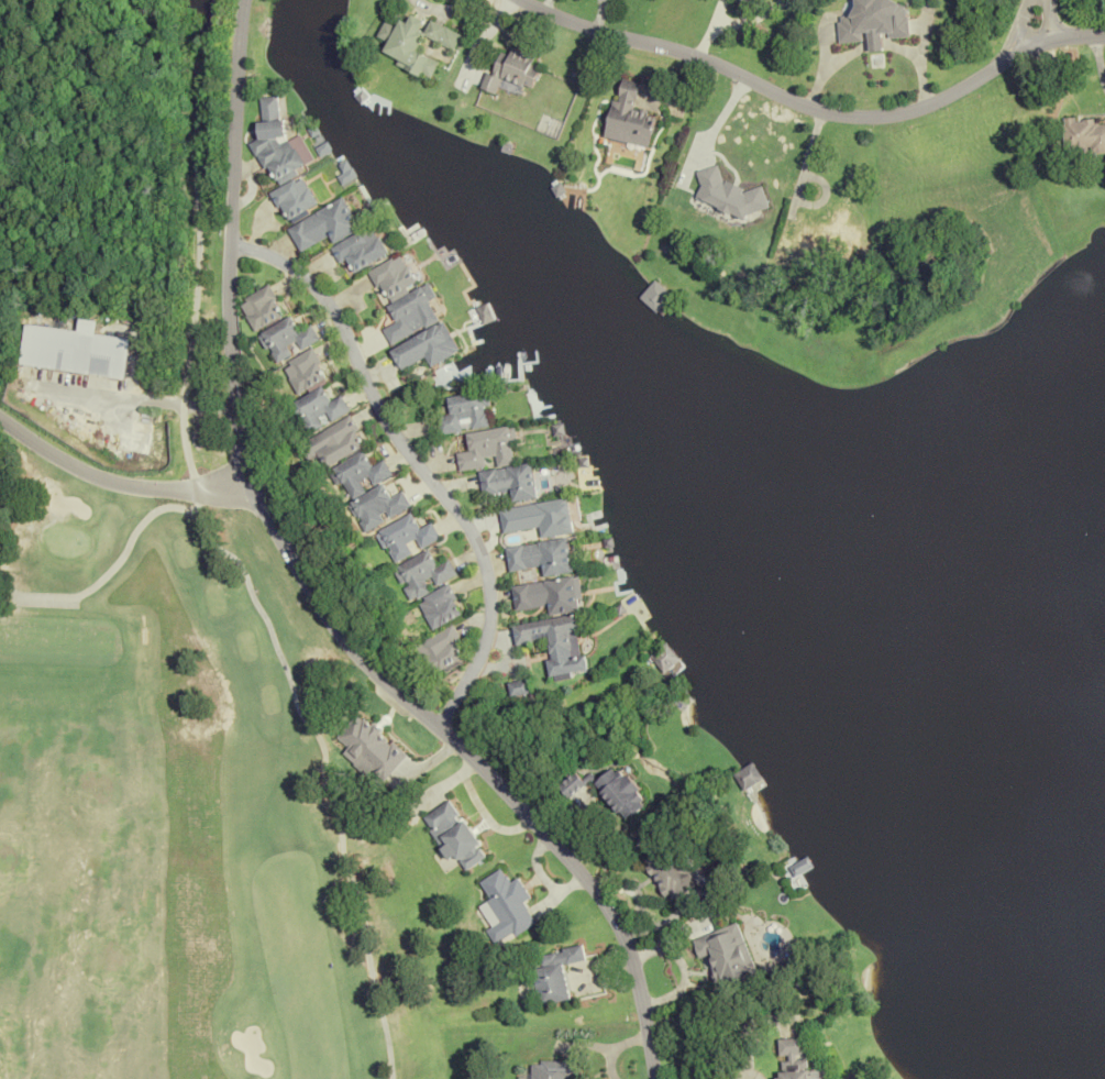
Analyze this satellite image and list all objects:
building: (749, 0)
road: (1036, 19)
building: (873, 22)
building: (416, 43)
building: (511, 71)
road: (818, 103)
building: (629, 117)
road: (234, 121)
building: (1083, 137)
building: (275, 143)
building: (732, 196)
building: (292, 199)
building: (323, 225)
building: (830, 232)
building: (361, 249)
building: (655, 296)
building: (404, 299)
building: (259, 308)
building: (285, 339)
building: (426, 346)
building: (73, 349)
building: (301, 372)
building: (314, 410)
building: (464, 412)
building: (331, 442)
building: (486, 449)
road: (412, 459)
road: (119, 477)
building: (507, 482)
building: (402, 537)
building: (539, 557)
building: (420, 574)
building: (545, 595)
building: (437, 607)
building: (553, 642)
building: (438, 651)
building: (665, 661)
road: (389, 687)
building: (516, 687)
building: (748, 775)
building: (610, 790)
building: (454, 834)
building: (672, 867)
building: (800, 867)
building: (507, 905)
building: (729, 954)
building: (556, 973)
building: (793, 1058)
building: (556, 1069)

